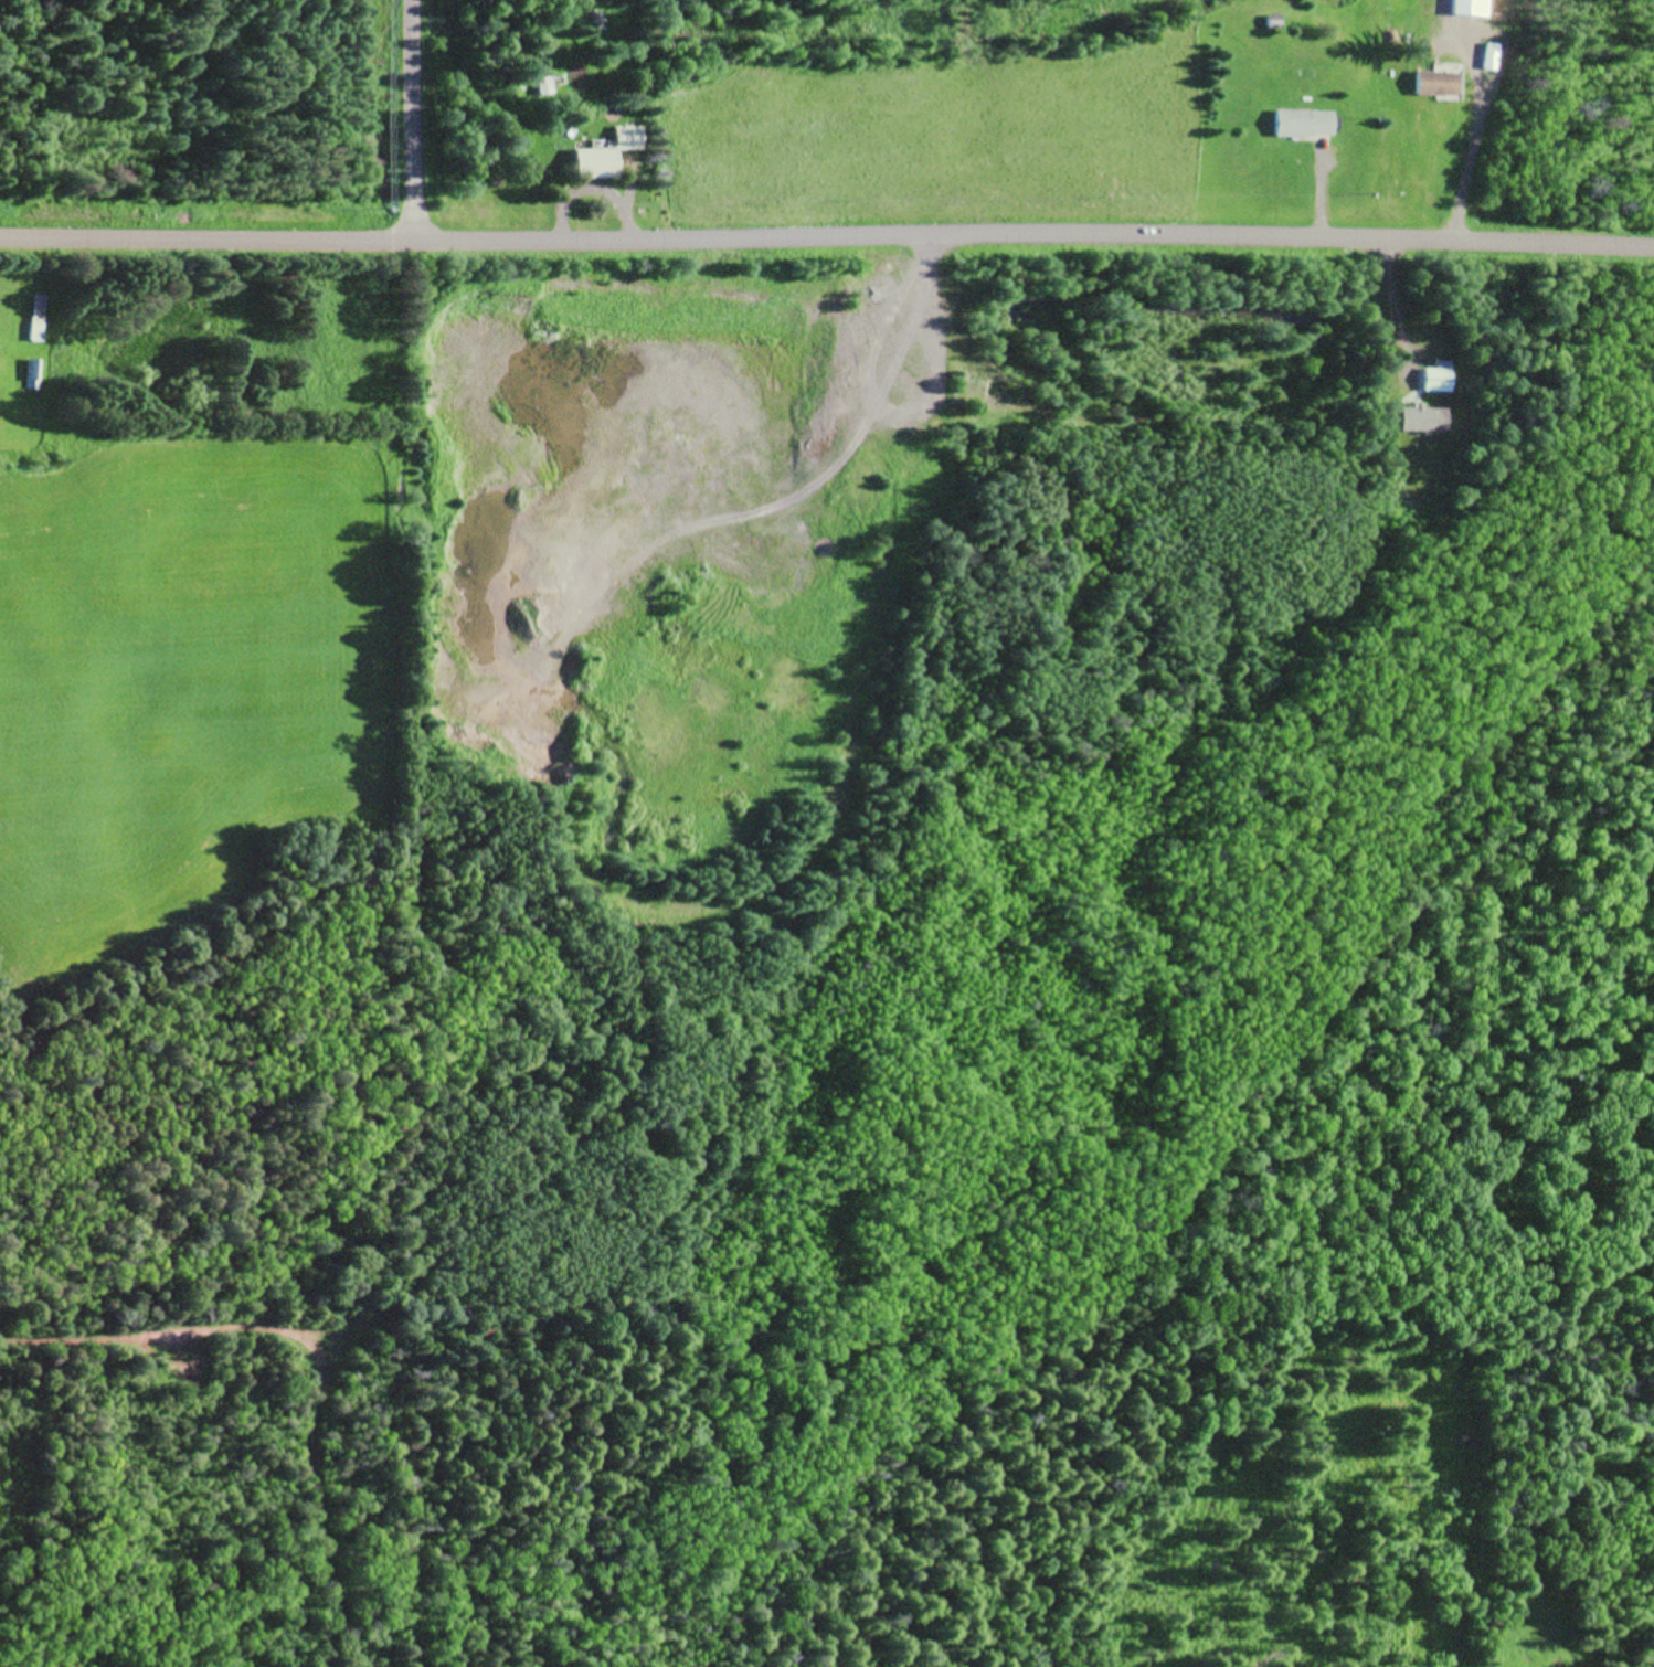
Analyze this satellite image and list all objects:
building: (1469, 7)
building: (1273, 20)
building: (1489, 53)
building: (1433, 83)
building: (543, 84)
road: (412, 117)
building: (1301, 123)
building: (607, 152)
road: (827, 226)
building: (41, 316)
building: (36, 372)
building: (1435, 375)
building: (1421, 416)
road: (886, 596)
quarry: (829, 764)

